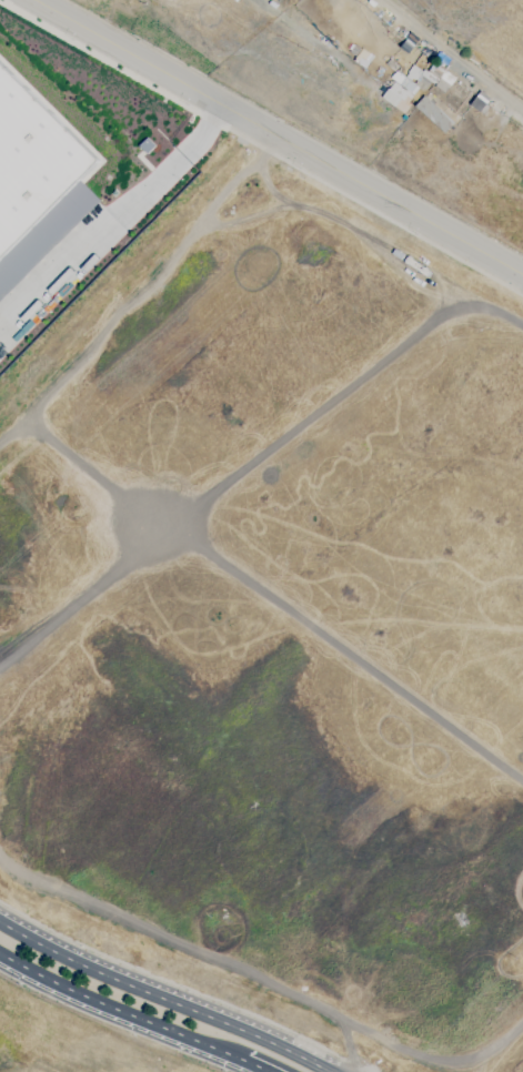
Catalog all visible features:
building: (141, 0)
road: (453, 57)
building: (440, 78)
building: (400, 87)
building: (433, 113)
road: (276, 140)
road: (262, 146)
building: (37, 168)
road: (111, 219)
building: (0, 297)
road: (175, 983)
road: (163, 998)
road: (119, 1011)
road: (360, 1064)
road: (253, 1066)
road: (369, 1068)

